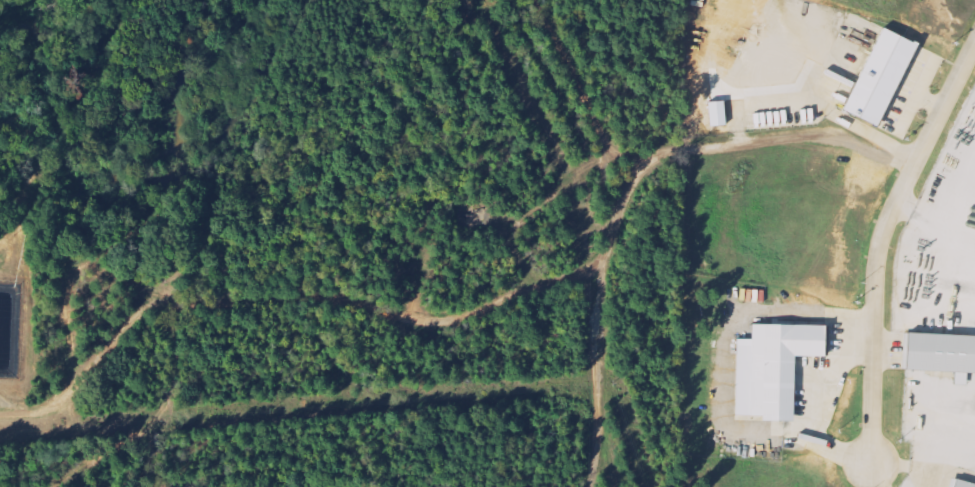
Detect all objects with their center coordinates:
building: (882, 78)
road: (936, 217)
road: (879, 240)
road: (473, 315)
road: (690, 318)
building: (941, 351)
building: (775, 369)
road: (595, 378)
road: (924, 419)
road: (877, 475)
building: (962, 483)

